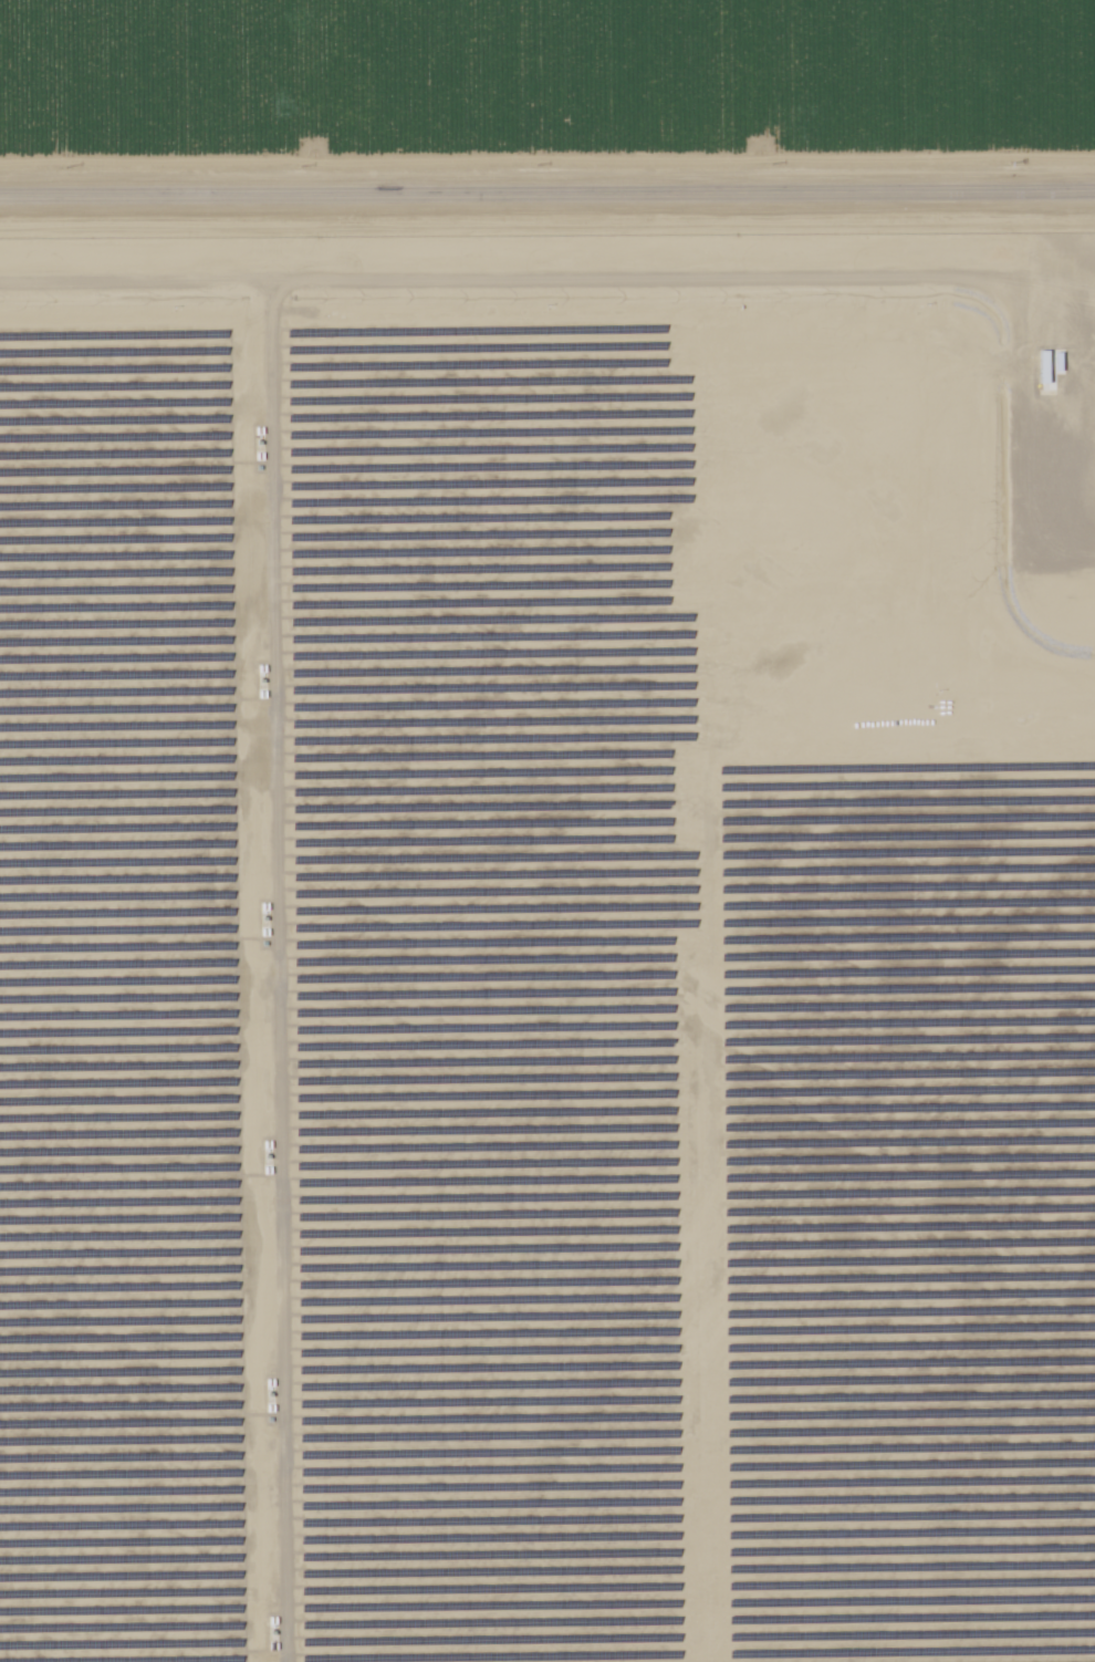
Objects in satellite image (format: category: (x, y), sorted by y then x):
crop: (544, 86)
road: (546, 200)
building: (1052, 368)
solar farm: (547, 952)

